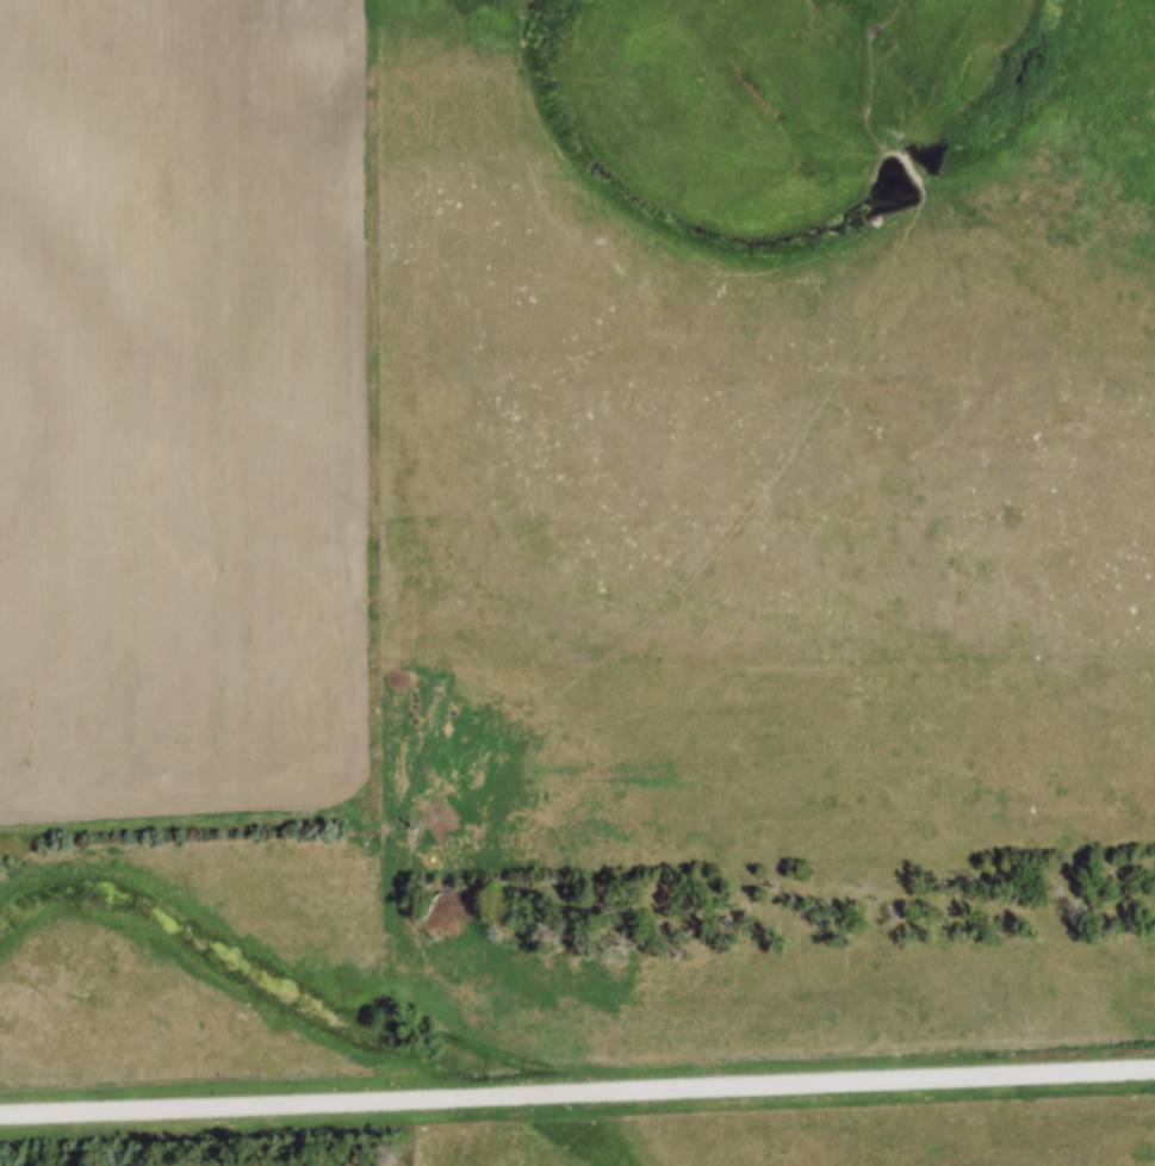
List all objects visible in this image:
road: (577, 1087)

